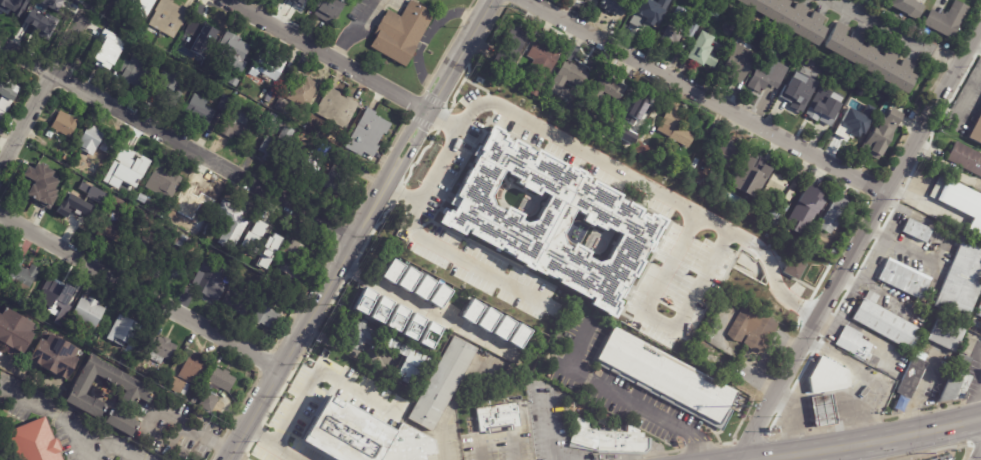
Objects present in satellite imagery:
building: (315, 0)
building: (588, 0)
building: (590, 0)
building: (629, 0)
building: (669, 0)
building: (671, 0)
building: (306, 1)
building: (659, 1)
building: (877, 1)
building: (67, 3)
building: (31, 7)
building: (138, 7)
building: (611, 7)
building: (908, 7)
building: (14, 8)
building: (629, 8)
building: (330, 9)
building: (713, 13)
building: (43, 16)
building: (171, 16)
building: (642, 19)
building: (788, 19)
building: (945, 20)
building: (674, 28)
road: (353, 29)
building: (200, 30)
building: (116, 31)
building: (689, 31)
building: (403, 33)
road: (896, 34)
building: (510, 48)
building: (236, 50)
building: (702, 52)
building: (103, 54)
road: (329, 56)
road: (464, 56)
building: (542, 57)
building: (871, 58)
building: (736, 63)
building: (270, 65)
building: (135, 74)
building: (569, 76)
building: (859, 76)
building: (763, 79)
building: (234, 82)
building: (835, 84)
road: (45, 86)
building: (172, 87)
building: (303, 90)
building: (534, 90)
building: (597, 92)
building: (857, 96)
building: (7, 99)
road: (705, 99)
building: (790, 99)
building: (225, 102)
building: (339, 107)
building: (634, 110)
building: (202, 111)
building: (818, 115)
road: (444, 122)
building: (239, 123)
building: (598, 124)
building: (66, 125)
road: (531, 125)
building: (849, 128)
building: (673, 129)
building: (371, 131)
building: (976, 132)
building: (890, 133)
road: (181, 135)
building: (92, 140)
building: (626, 140)
building: (108, 146)
building: (875, 147)
building: (273, 149)
building: (642, 150)
building: (724, 152)
building: (66, 157)
building: (965, 159)
building: (127, 164)
building: (308, 164)
building: (692, 164)
building: (752, 169)
building: (682, 173)
building: (339, 175)
building: (700, 180)
building: (165, 181)
building: (45, 184)
building: (776, 184)
building: (108, 193)
building: (90, 194)
road: (401, 195)
building: (727, 195)
building: (787, 196)
building: (142, 198)
building: (194, 200)
building: (811, 200)
building: (960, 202)
building: (80, 203)
building: (117, 204)
building: (831, 216)
building: (771, 219)
building: (232, 224)
building: (781, 227)
building: (114, 230)
building: (171, 230)
building: (916, 230)
building: (183, 241)
building: (261, 243)
road: (860, 246)
building: (1, 250)
building: (145, 251)
building: (295, 261)
building: (236, 264)
building: (794, 268)
building: (182, 269)
building: (23, 277)
building: (905, 278)
building: (212, 280)
building: (961, 282)
building: (421, 285)
road: (331, 287)
road: (141, 288)
building: (3, 290)
building: (59, 294)
building: (17, 300)
building: (363, 301)
building: (240, 302)
building: (269, 311)
building: (978, 311)
building: (88, 312)
road: (429, 312)
building: (401, 313)
building: (35, 314)
building: (885, 323)
building: (499, 324)
building: (15, 330)
building: (752, 330)
building: (358, 332)
building: (125, 335)
building: (945, 335)
building: (853, 343)
road: (342, 347)
building: (162, 349)
building: (56, 356)
building: (332, 357)
building: (412, 362)
building: (705, 363)
building: (194, 368)
road: (27, 373)
road: (318, 373)
road: (857, 375)
building: (911, 376)
building: (663, 377)
building: (224, 379)
building: (828, 382)
building: (936, 382)
building: (954, 383)
building: (179, 385)
building: (444, 385)
building: (80, 395)
road: (628, 400)
building: (209, 402)
building: (307, 404)
building: (898, 405)
road: (976, 405)
building: (820, 413)
gas station: (820, 413)
building: (294, 415)
road: (799, 415)
building: (498, 418)
road: (73, 421)
road: (547, 421)
road: (193, 432)
road: (498, 435)
building: (606, 440)
building: (367, 442)
building: (37, 443)
road: (82, 444)
road: (443, 444)
road: (271, 445)
road: (859, 445)
road: (870, 452)
road: (833, 454)
road: (978, 455)
road: (781, 457)
road: (745, 459)
building: (949, 459)

